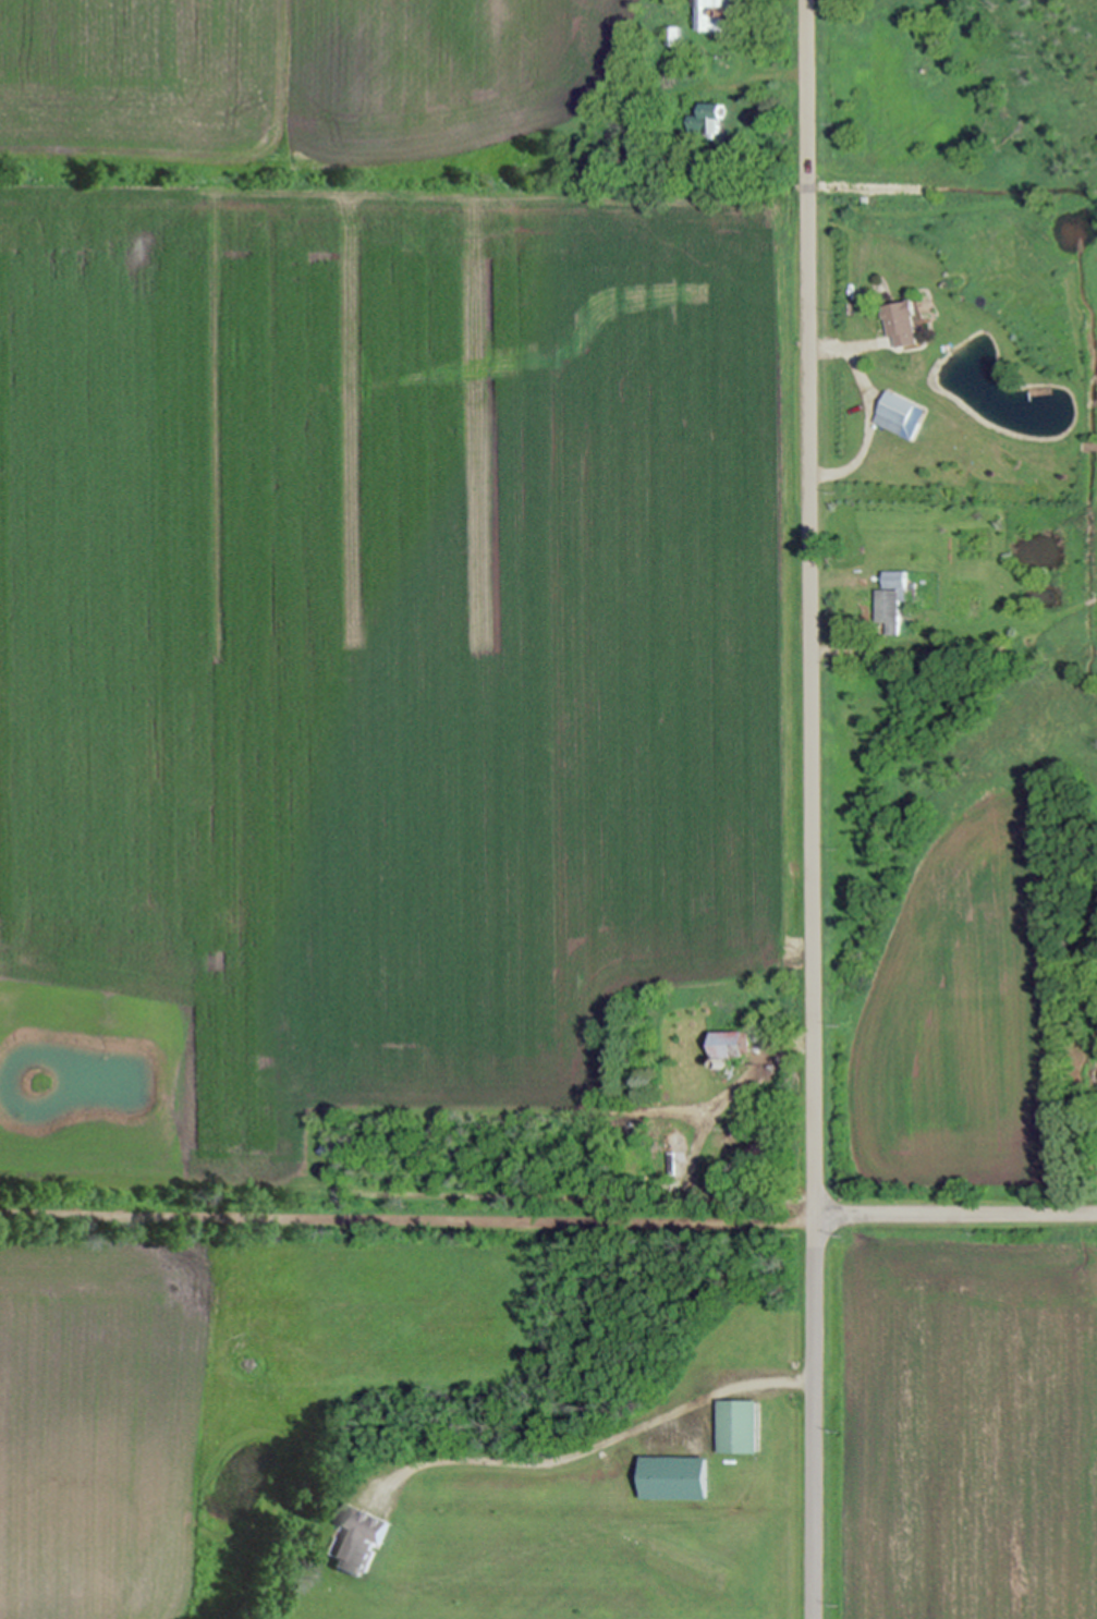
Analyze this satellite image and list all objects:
building: (715, 15)
building: (709, 122)
building: (863, 200)
building: (914, 316)
building: (898, 322)
road: (845, 349)
building: (1036, 391)
building: (895, 407)
building: (888, 423)
road: (867, 429)
building: (1087, 448)
building: (890, 601)
road: (812, 808)
building: (741, 1043)
building: (734, 1146)
road: (407, 1215)
road: (955, 1218)
building: (741, 1429)
road: (596, 1445)
building: (679, 1481)
building: (361, 1544)

